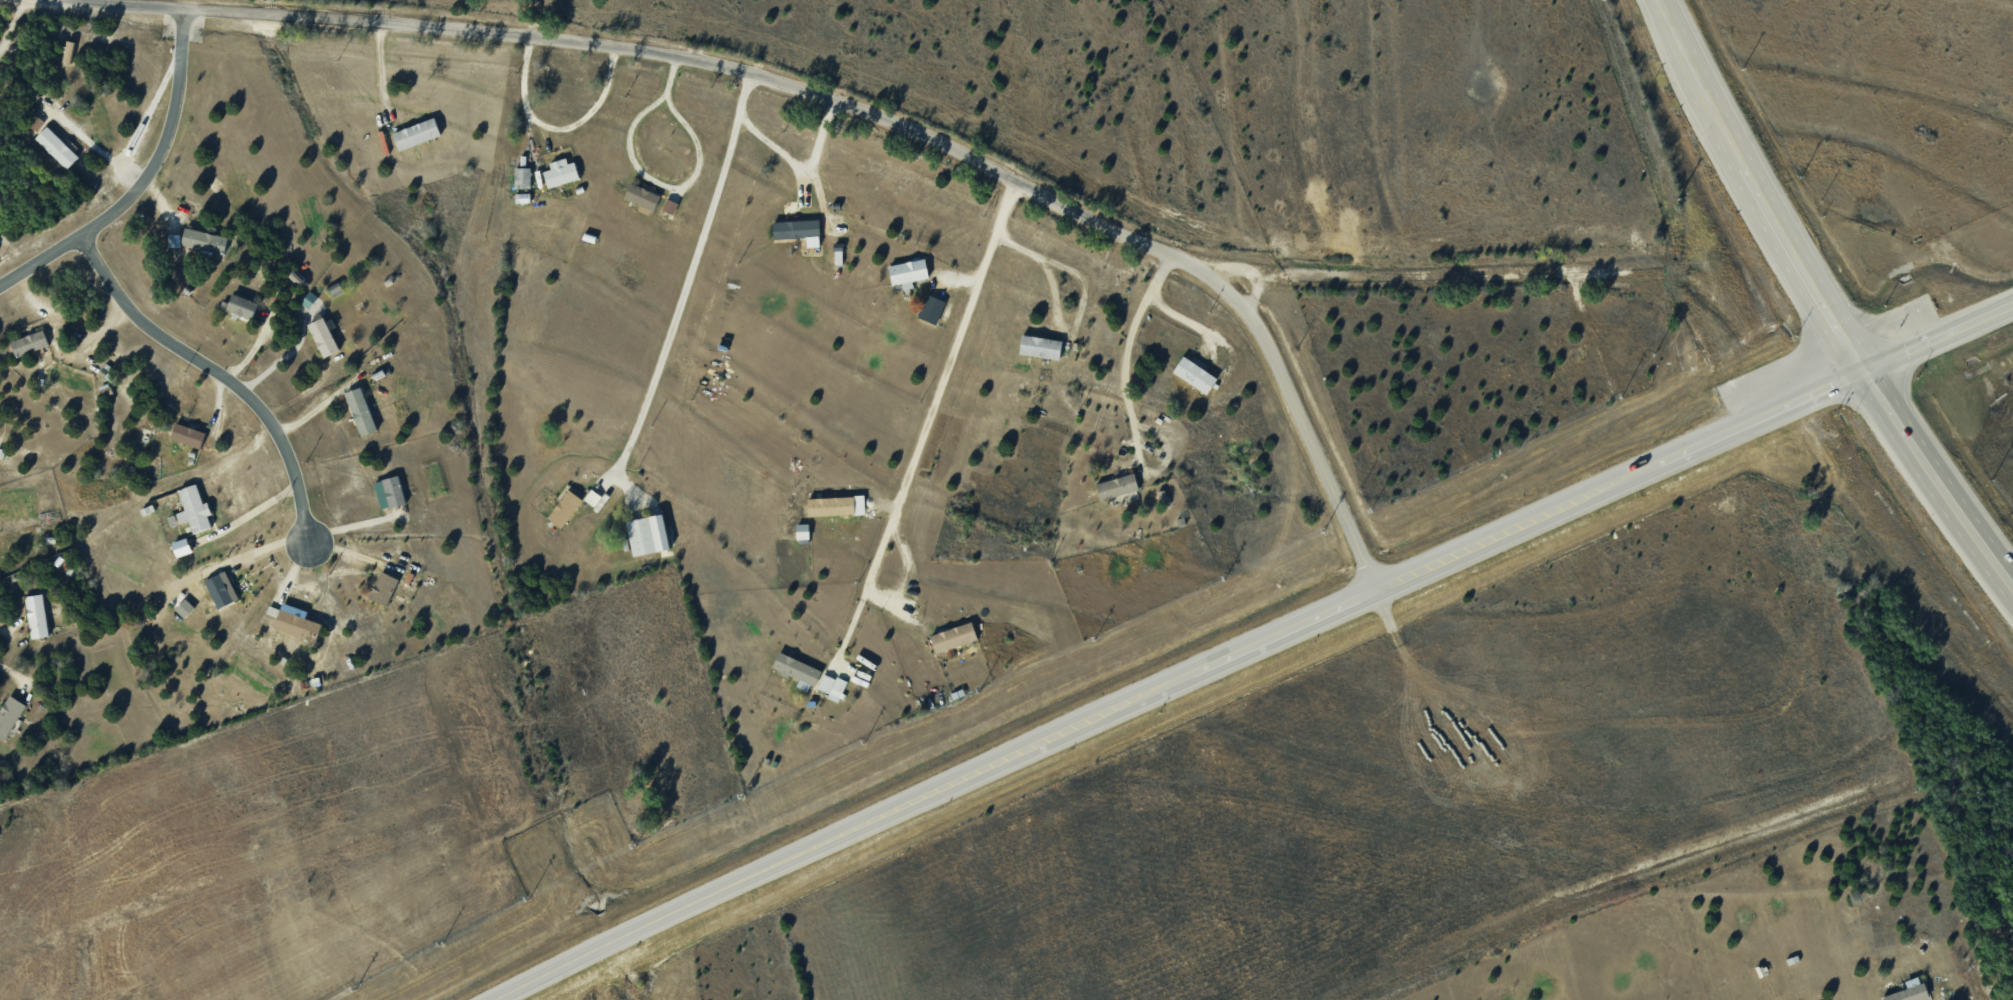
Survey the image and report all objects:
building: (69, 51)
road: (381, 71)
road: (522, 85)
road: (816, 95)
road: (590, 112)
road: (143, 121)
building: (417, 133)
road: (90, 142)
building: (57, 147)
road: (781, 154)
building: (560, 172)
road: (647, 173)
building: (523, 177)
road: (141, 179)
road: (1755, 185)
building: (642, 196)
building: (669, 206)
building: (796, 229)
building: (204, 240)
building: (908, 272)
road: (680, 293)
building: (309, 299)
road: (1080, 300)
building: (241, 305)
building: (931, 309)
road: (1177, 315)
road: (1936, 332)
building: (323, 337)
building: (30, 343)
building: (1040, 346)
traffic signals: (1860, 367)
road: (216, 370)
building: (1195, 374)
road: (1127, 399)
road: (315, 409)
building: (361, 411)
road: (928, 416)
building: (188, 435)
road: (1149, 447)
road: (1935, 475)
building: (1117, 486)
building: (389, 492)
building: (835, 505)
building: (565, 508)
building: (194, 509)
road: (246, 515)
road: (354, 523)
building: (802, 531)
building: (648, 534)
building: (181, 547)
road: (256, 550)
road: (356, 554)
building: (383, 588)
building: (221, 589)
building: (37, 615)
building: (297, 622)
building: (953, 637)
building: (796, 669)
road: (13, 672)
road: (1184, 680)
building: (832, 686)
building: (9, 714)
park: (1995, 948)
building: (1910, 991)

